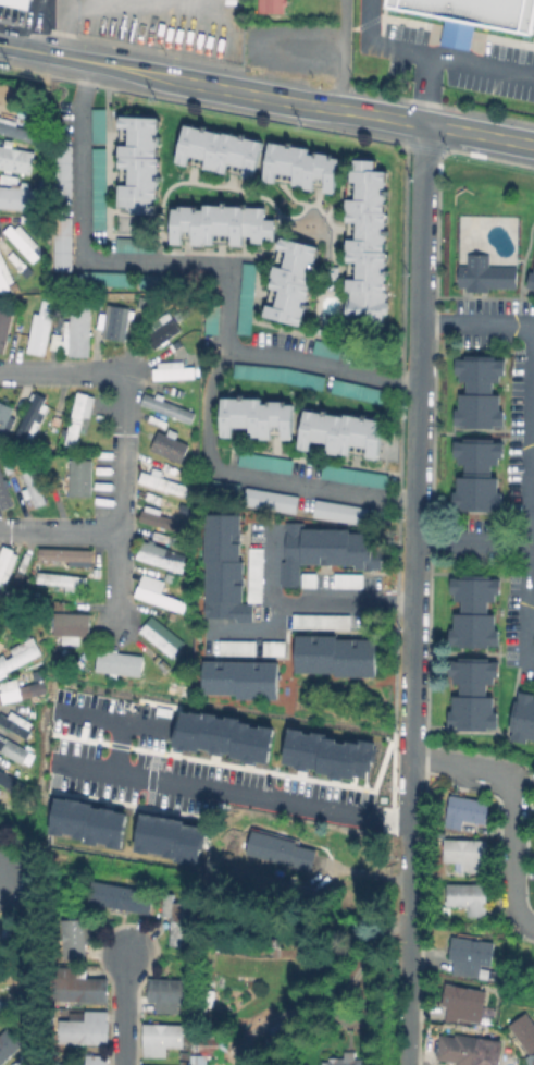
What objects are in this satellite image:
building: (15, 3)
building: (273, 7)
road: (89, 8)
building: (471, 15)
road: (34, 25)
road: (65, 28)
parking lot: (403, 33)
building: (275, 40)
road: (33, 50)
road: (340, 53)
road: (430, 54)
parking lot: (498, 71)
road: (152, 75)
road: (426, 89)
road: (296, 103)
road: (388, 118)
building: (15, 131)
road: (480, 134)
building: (221, 150)
building: (14, 159)
building: (136, 162)
building: (306, 168)
building: (59, 171)
building: (96, 187)
building: (15, 197)
building: (226, 227)
building: (20, 242)
building: (59, 243)
building: (128, 244)
building: (370, 244)
road: (198, 258)
building: (333, 273)
building: (485, 276)
building: (3, 277)
building: (107, 279)
building: (532, 281)
building: (295, 283)
building: (249, 299)
building: (214, 319)
building: (116, 323)
road: (476, 323)
building: (5, 328)
building: (163, 330)
building: (44, 331)
building: (79, 331)
building: (57, 344)
building: (331, 352)
building: (173, 370)
building: (284, 377)
building: (480, 392)
building: (365, 393)
building: (169, 407)
building: (79, 418)
building: (5, 420)
building: (33, 421)
building: (158, 421)
building: (258, 421)
building: (344, 432)
road: (123, 436)
building: (171, 445)
building: (266, 463)
building: (10, 467)
road: (251, 472)
building: (477, 475)
building: (80, 477)
building: (357, 477)
building: (32, 482)
building: (163, 483)
building: (224, 489)
building: (5, 494)
building: (275, 502)
road: (529, 511)
building: (341, 513)
building: (160, 518)
road: (60, 531)
building: (163, 537)
road: (471, 543)
building: (325, 553)
building: (73, 558)
building: (160, 558)
building: (7, 564)
building: (227, 572)
building: (261, 575)
building: (62, 579)
building: (352, 584)
building: (160, 592)
road: (413, 593)
road: (308, 602)
building: (475, 612)
building: (1, 615)
building: (323, 621)
building: (74, 629)
road: (256, 632)
building: (160, 637)
building: (238, 648)
building: (276, 649)
building: (18, 654)
road: (467, 654)
building: (336, 657)
building: (120, 662)
building: (243, 680)
building: (22, 689)
building: (473, 696)
road: (510, 710)
road: (110, 718)
building: (522, 722)
building: (16, 723)
building: (232, 735)
road: (121, 746)
building: (12, 749)
building: (334, 754)
building: (9, 778)
road: (232, 792)
road: (510, 807)
building: (468, 810)
building: (92, 822)
building: (175, 840)
building: (281, 849)
building: (467, 855)
building: (119, 896)
building: (468, 899)
building: (176, 919)
building: (8, 935)
building: (72, 938)
building: (1, 950)
building: (473, 960)
building: (76, 986)
building: (165, 993)
building: (212, 999)
building: (464, 1002)
road: (125, 1008)
building: (83, 1027)
building: (527, 1030)
building: (160, 1038)
building: (10, 1049)
building: (471, 1051)
building: (532, 1058)
building: (92, 1060)
building: (201, 1060)
building: (352, 1061)

